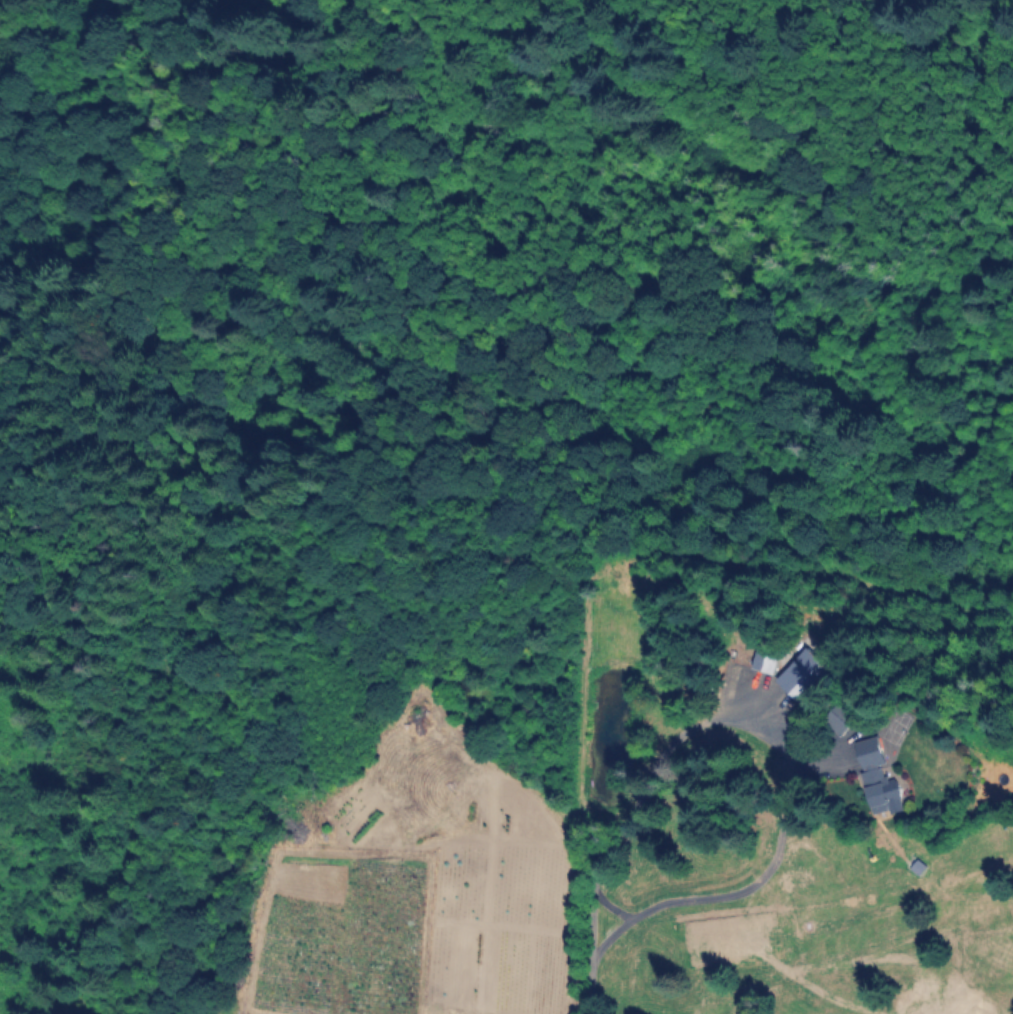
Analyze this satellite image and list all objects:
building: (807, 682)
building: (884, 794)
road: (684, 894)

